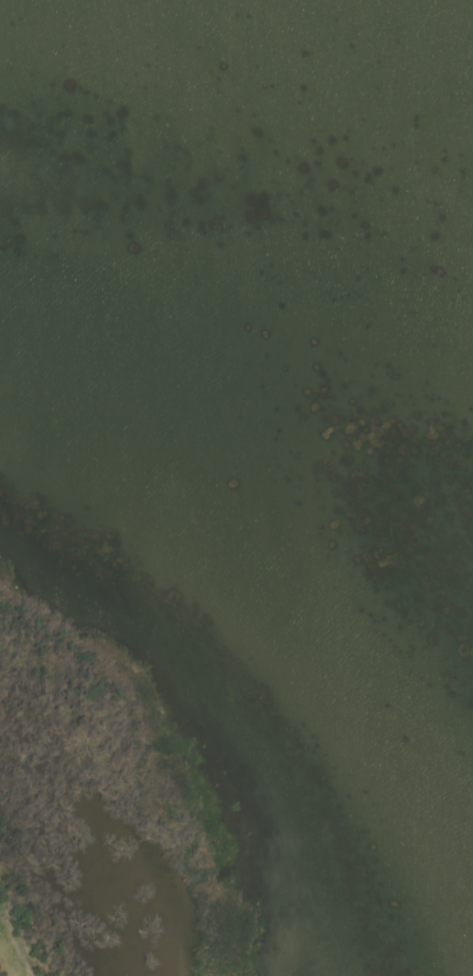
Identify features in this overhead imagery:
river: (236, 312)

